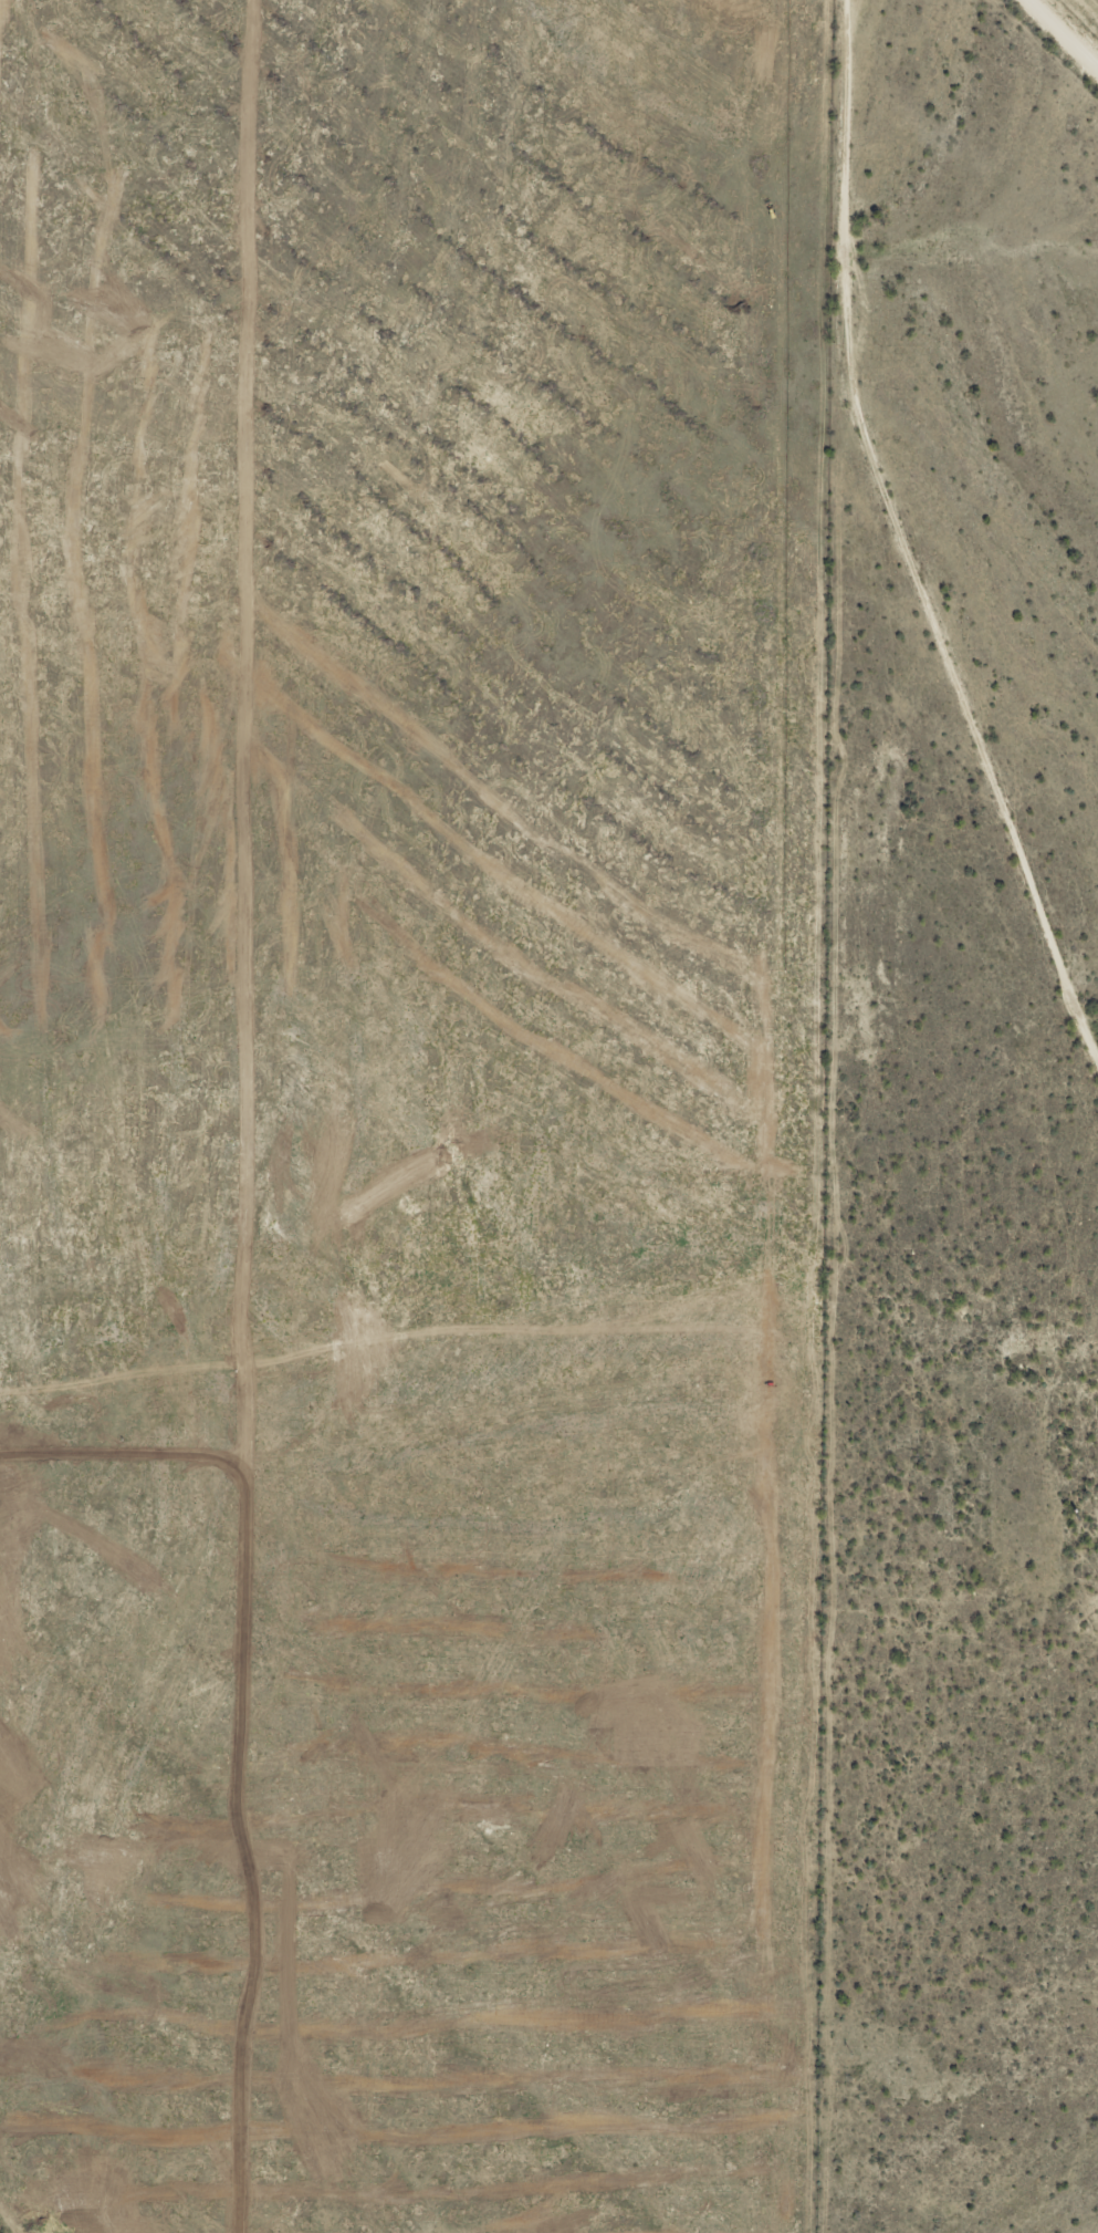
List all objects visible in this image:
road: (1052, 46)
road: (961, 748)

